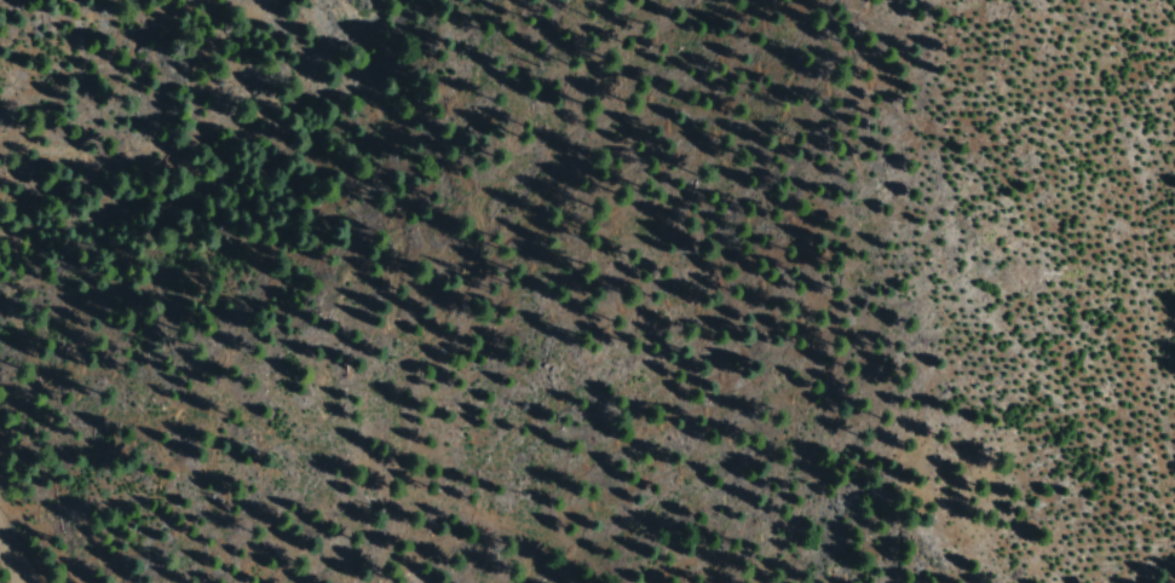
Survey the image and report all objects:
road: (31, 472)

